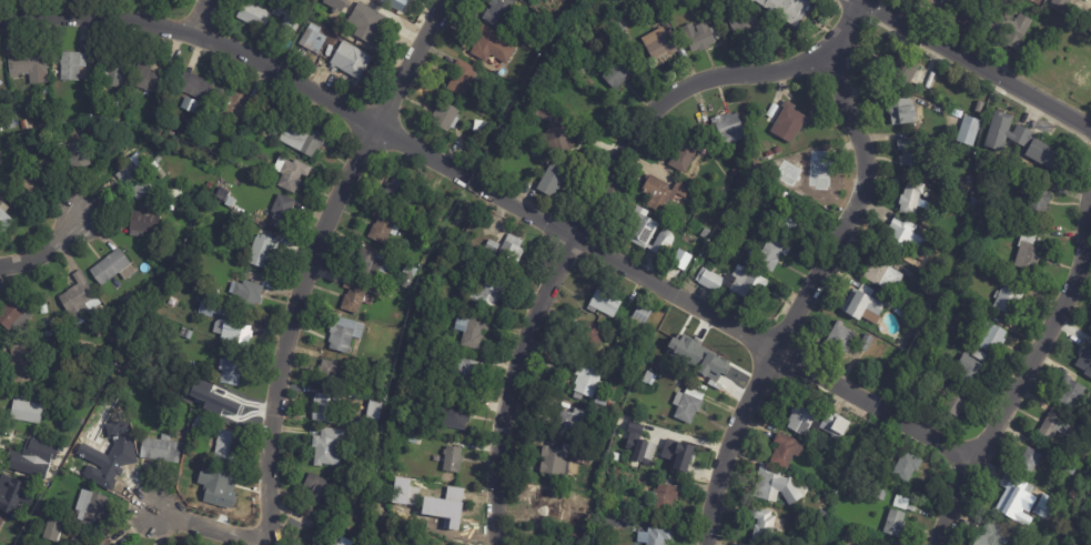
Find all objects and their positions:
building: (752, 0)
road: (861, 0)
road: (862, 0)
building: (916, 1)
building: (310, 2)
building: (392, 3)
building: (1061, 3)
building: (336, 4)
building: (789, 9)
building: (953, 9)
building: (497, 12)
building: (253, 14)
building: (966, 16)
road: (201, 17)
building: (624, 17)
building: (1050, 22)
building: (286, 23)
building: (744, 24)
building: (370, 26)
building: (1063, 26)
building: (619, 27)
building: (1012, 27)
building: (1089, 27)
building: (700, 36)
building: (312, 40)
building: (485, 42)
building: (589, 44)
building: (663, 47)
building: (351, 62)
building: (0, 63)
building: (27, 64)
building: (71, 64)
road: (977, 64)
building: (906, 69)
building: (111, 71)
building: (1064, 71)
building: (620, 72)
building: (1084, 74)
building: (150, 77)
building: (464, 78)
building: (583, 83)
building: (194, 87)
building: (281, 98)
building: (114, 101)
building: (189, 104)
building: (235, 105)
building: (20, 109)
building: (589, 109)
building: (772, 110)
building: (903, 110)
building: (444, 114)
building: (472, 121)
building: (41, 122)
building: (789, 122)
building: (10, 124)
building: (23, 124)
building: (916, 127)
building: (726, 129)
building: (969, 130)
building: (1007, 132)
building: (193, 137)
building: (302, 138)
building: (128, 139)
road: (403, 139)
building: (570, 142)
building: (513, 147)
building: (777, 150)
building: (913, 152)
building: (684, 153)
building: (74, 154)
building: (471, 154)
building: (1048, 154)
building: (10, 159)
building: (156, 159)
building: (779, 165)
building: (809, 171)
building: (291, 173)
building: (735, 173)
building: (39, 176)
building: (134, 178)
building: (212, 178)
building: (553, 179)
building: (970, 180)
building: (398, 192)
building: (663, 192)
building: (911, 198)
building: (221, 199)
building: (964, 200)
building: (230, 201)
building: (1039, 202)
building: (171, 205)
building: (282, 212)
building: (790, 219)
building: (433, 220)
building: (4, 222)
building: (143, 223)
building: (238, 223)
road: (576, 224)
building: (382, 225)
building: (1006, 229)
building: (646, 232)
building: (706, 233)
building: (901, 236)
building: (426, 241)
road: (43, 245)
building: (492, 246)
building: (261, 250)
building: (1030, 252)
building: (511, 253)
building: (772, 254)
road: (311, 259)
building: (920, 264)
building: (371, 266)
building: (111, 268)
building: (410, 270)
building: (885, 273)
road: (819, 274)
building: (735, 283)
building: (931, 286)
building: (491, 290)
building: (212, 294)
building: (246, 294)
building: (353, 296)
building: (77, 297)
building: (1008, 299)
building: (605, 301)
building: (906, 303)
building: (862, 305)
building: (42, 309)
building: (11, 312)
building: (640, 316)
building: (909, 321)
building: (226, 324)
building: (47, 327)
building: (472, 331)
building: (182, 332)
building: (931, 332)
building: (343, 334)
building: (189, 335)
building: (587, 337)
building: (993, 337)
building: (840, 339)
building: (867, 343)
building: (928, 344)
building: (690, 347)
building: (425, 352)
building: (979, 355)
building: (1085, 360)
building: (567, 362)
building: (20, 364)
building: (196, 367)
building: (713, 367)
road: (1027, 369)
building: (970, 370)
building: (230, 371)
building: (465, 372)
building: (327, 374)
building: (649, 379)
building: (192, 380)
building: (587, 380)
building: (411, 383)
building: (1070, 393)
building: (957, 400)
building: (602, 401)
building: (556, 404)
building: (610, 404)
building: (220, 405)
building: (688, 405)
building: (327, 407)
road: (878, 407)
building: (374, 410)
building: (26, 411)
building: (461, 416)
building: (610, 416)
building: (117, 417)
building: (198, 423)
building: (817, 423)
building: (569, 424)
building: (1057, 426)
building: (329, 446)
building: (638, 446)
building: (224, 447)
building: (14, 450)
building: (160, 450)
building: (786, 451)
building: (674, 454)
building: (619, 456)
building: (33, 458)
building: (115, 458)
building: (564, 458)
building: (453, 460)
building: (1087, 460)
building: (1031, 462)
building: (53, 466)
building: (907, 466)
building: (1069, 467)
building: (1082, 475)
building: (210, 483)
building: (400, 486)
building: (776, 486)
building: (320, 491)
building: (185, 494)
building: (881, 494)
building: (1073, 494)
building: (10, 496)
building: (27, 496)
building: (665, 497)
building: (1017, 499)
building: (442, 502)
building: (605, 503)
building: (901, 503)
building: (555, 505)
building: (587, 505)
building: (24, 506)
building: (1045, 507)
building: (90, 508)
building: (1089, 511)
building: (824, 514)
building: (585, 519)
building: (1084, 521)
building: (1, 522)
building: (895, 524)
building: (764, 526)
road: (196, 527)
building: (1064, 528)
building: (52, 531)
building: (1077, 533)
building: (992, 535)
building: (1060, 535)
building: (657, 536)
building: (330, 538)
building: (853, 538)
building: (1087, 542)
building: (104, 543)

